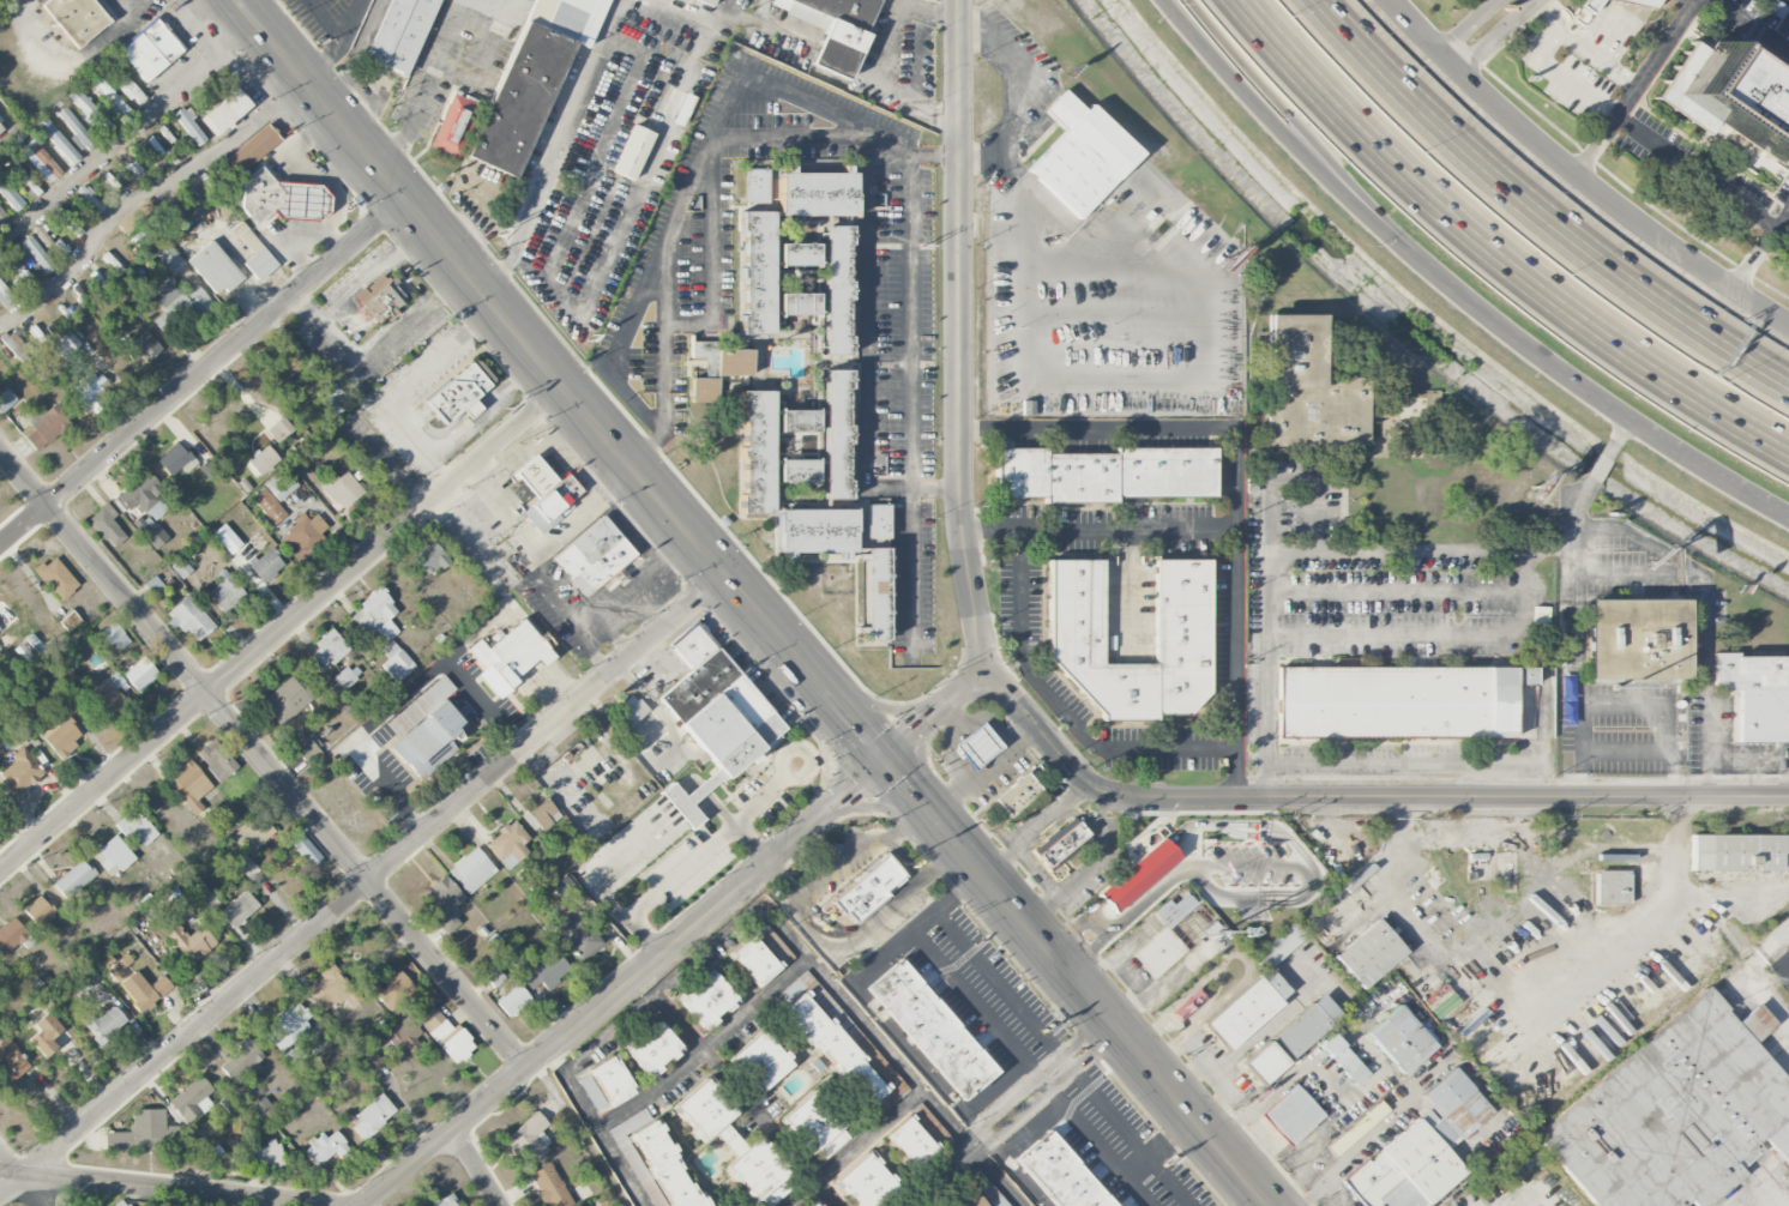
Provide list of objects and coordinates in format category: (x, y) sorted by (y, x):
road: (152, 1)
road: (156, 1)
building: (705, 1)
building: (1630, 2)
building: (1583, 10)
road: (945, 12)
building: (76, 18)
road: (351, 19)
road: (896, 24)
road: (1752, 24)
road: (1468, 25)
road: (1609, 26)
building: (832, 29)
building: (399, 34)
road: (1494, 35)
road: (339, 41)
road: (819, 42)
road: (1582, 47)
building: (151, 49)
road: (72, 66)
building: (531, 78)
road: (1636, 86)
building: (128, 88)
road: (428, 88)
road: (1011, 92)
building: (109, 97)
building: (1728, 97)
building: (225, 109)
building: (681, 109)
building: (89, 111)
building: (454, 123)
road: (13, 125)
building: (188, 126)
building: (76, 128)
building: (0, 129)
road: (561, 129)
road: (127, 133)
road: (1646, 137)
building: (58, 140)
road: (1313, 140)
building: (151, 146)
road: (1293, 146)
building: (252, 150)
building: (632, 151)
road: (711, 152)
building: (1082, 155)
building: (43, 162)
building: (134, 170)
road: (1577, 173)
building: (25, 180)
road: (691, 181)
building: (754, 185)
road: (140, 191)
building: (815, 193)
building: (8, 195)
building: (279, 198)
building: (90, 199)
road: (1537, 210)
building: (2, 216)
building: (135, 217)
building: (67, 222)
building: (41, 235)
road: (1760, 246)
building: (59, 249)
road: (1492, 249)
building: (253, 253)
building: (797, 253)
building: (37, 254)
building: (168, 258)
building: (112, 263)
building: (213, 269)
building: (755, 271)
road: (371, 275)
building: (20, 276)
road: (495, 279)
building: (836, 289)
building: (78, 294)
building: (378, 296)
building: (6, 297)
building: (180, 302)
building: (797, 303)
road: (307, 308)
building: (36, 333)
road: (865, 334)
road: (391, 336)
road: (958, 336)
road: (910, 342)
building: (66, 344)
building: (144, 348)
road: (616, 349)
road: (1546, 360)
building: (283, 368)
building: (716, 368)
road: (200, 372)
road: (1134, 373)
road: (556, 380)
building: (1308, 388)
building: (459, 391)
building: (91, 394)
building: (332, 398)
building: (6, 400)
building: (797, 421)
building: (44, 427)
building: (279, 430)
building: (837, 433)
building: (755, 452)
building: (176, 460)
building: (261, 460)
building: (206, 470)
building: (797, 470)
road: (1234, 472)
building: (1101, 474)
road: (1722, 476)
building: (281, 484)
building: (341, 489)
building: (546, 493)
building: (141, 498)
building: (269, 506)
building: (875, 520)
road: (1314, 521)
building: (107, 525)
road: (1100, 526)
building: (149, 531)
building: (305, 535)
building: (227, 538)
road: (543, 547)
building: (595, 554)
building: (429, 557)
road: (1679, 563)
building: (266, 565)
building: (180, 568)
road: (911, 568)
road: (484, 569)
building: (56, 578)
road: (631, 591)
road: (1397, 591)
building: (225, 592)
building: (874, 598)
building: (1181, 610)
building: (377, 614)
building: (189, 617)
building: (70, 621)
road: (281, 627)
building: (0, 631)
road: (1454, 632)
building: (115, 637)
building: (1634, 639)
road: (586, 644)
building: (35, 645)
building: (327, 649)
building: (22, 651)
building: (508, 656)
building: (396, 662)
building: (139, 674)
road: (1580, 674)
building: (347, 676)
building: (1757, 694)
building: (106, 697)
road: (396, 698)
building: (287, 699)
building: (1397, 703)
road: (1059, 707)
road: (1669, 708)
building: (713, 714)
road: (933, 714)
road: (1543, 723)
building: (424, 730)
building: (60, 735)
building: (975, 744)
gas station: (975, 744)
road: (1711, 747)
building: (307, 750)
road: (1740, 756)
road: (263, 758)
traffic signals: (881, 759)
building: (217, 760)
road: (1392, 762)
building: (20, 772)
road: (802, 776)
building: (188, 785)
building: (1016, 794)
road: (1362, 796)
road: (824, 808)
building: (538, 814)
road: (745, 815)
road: (1036, 826)
building: (137, 828)
building: (253, 833)
building: (507, 845)
building: (1060, 848)
building: (305, 849)
road: (1098, 850)
building: (1736, 852)
building: (114, 856)
building: (471, 870)
road: (783, 875)
building: (1137, 876)
building: (73, 879)
road: (668, 882)
road: (361, 885)
road: (1049, 887)
building: (1612, 887)
building: (867, 888)
road: (1739, 893)
building: (203, 896)
building: (442, 903)
building: (237, 909)
building: (1174, 909)
building: (40, 913)
road: (1125, 913)
road: (805, 929)
building: (11, 936)
building: (585, 940)
building: (188, 942)
road: (707, 948)
building: (1369, 952)
building: (1158, 953)
building: (754, 960)
road: (1245, 960)
building: (537, 967)
road: (947, 971)
road: (1753, 977)
building: (84, 978)
building: (495, 978)
road: (1077, 981)
building: (144, 990)
building: (332, 990)
building: (393, 991)
building: (1254, 994)
building: (706, 999)
building: (512, 1000)
building: (1187, 1005)
building: (106, 1024)
road: (1528, 1024)
road: (728, 1025)
building: (1306, 1025)
building: (288, 1027)
building: (933, 1030)
road: (565, 1033)
building: (44, 1035)
building: (403, 1035)
building: (446, 1036)
building: (1399, 1038)
road: (1200, 1045)
building: (651, 1048)
building: (832, 1049)
road: (582, 1053)
building: (295, 1055)
road: (1064, 1059)
building: (1342, 1059)
building: (242, 1060)
building: (11, 1061)
building: (759, 1061)
building: (373, 1062)
building: (1261, 1063)
road: (900, 1065)
road: (1375, 1071)
road: (1222, 1074)
building: (610, 1080)
road: (748, 1098)
road: (999, 1106)
building: (264, 1111)
road: (622, 1111)
road: (940, 1111)
building: (1670, 1112)
road: (1019, 1114)
building: (1291, 1114)
building: (372, 1117)
building: (814, 1127)
building: (144, 1133)
building: (528, 1139)
building: (736, 1142)
building: (912, 1142)
building: (325, 1147)
building: (1418, 1150)
building: (266, 1153)
road: (1114, 1162)
road: (4, 1165)
road: (476, 1165)
building: (665, 1165)
road: (620, 1166)
park: (2, 1168)
road: (989, 1169)
building: (1061, 1171)
building: (867, 1182)
building: (549, 1187)
road: (167, 1188)
road: (36, 1189)
building: (987, 1190)
road: (1139, 1192)
building: (968, 1200)
building: (444, 1201)
building: (121, 1202)
building: (813, 1202)

